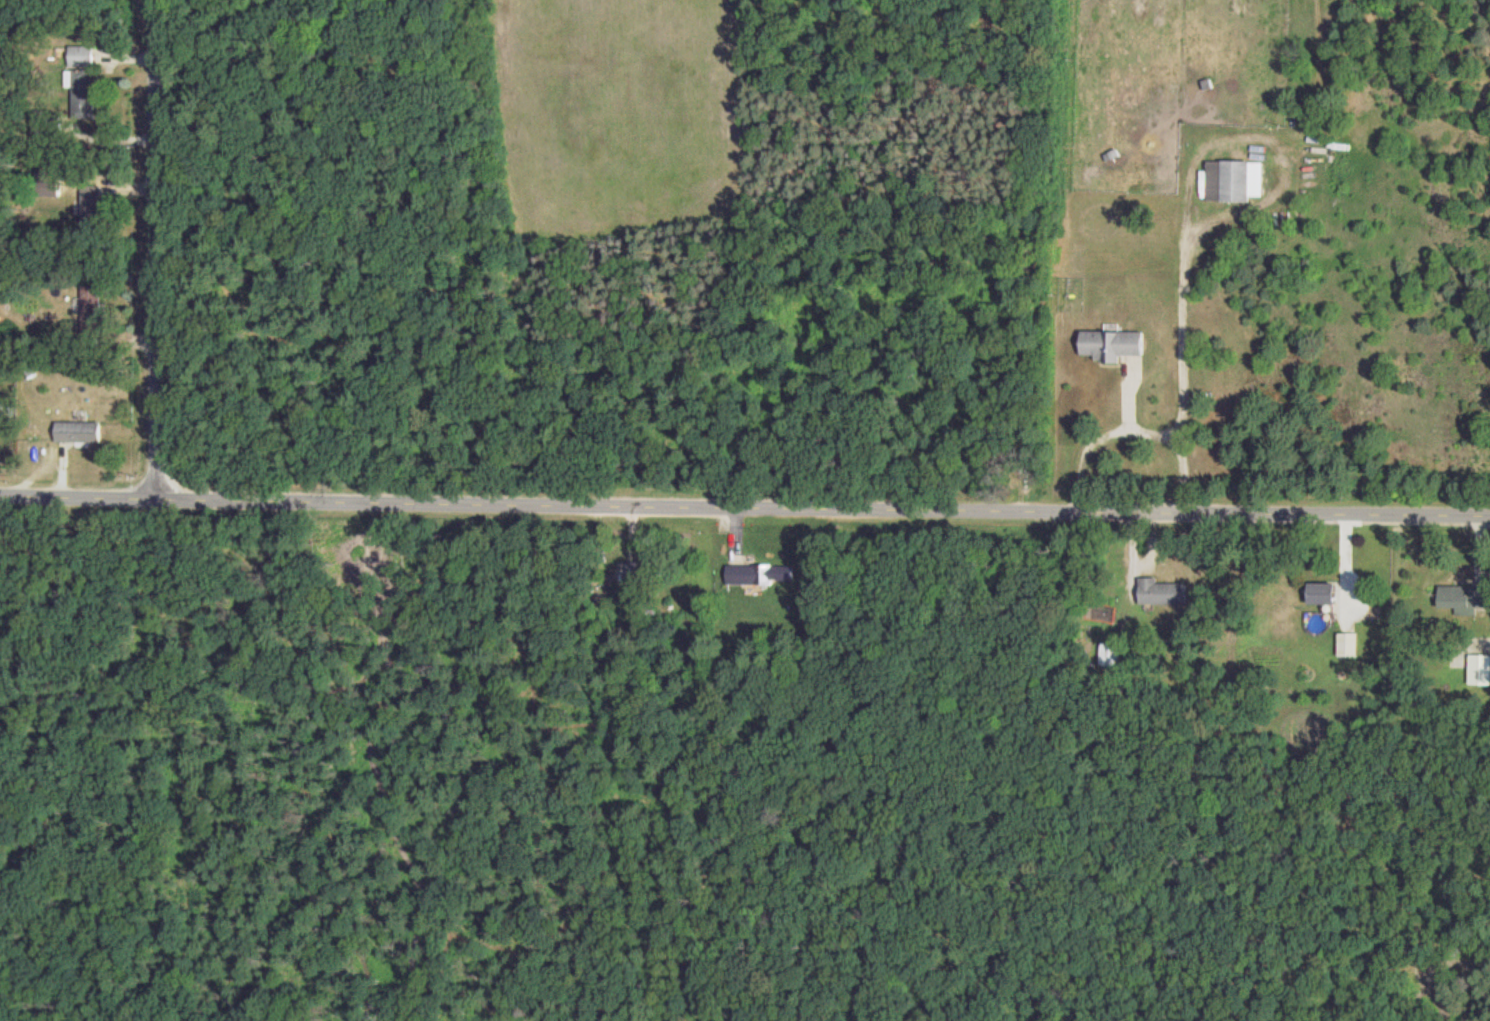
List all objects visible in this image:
building: (83, 55)
building: (84, 84)
building: (1226, 182)
building: (93, 204)
road: (148, 248)
building: (93, 308)
road: (1183, 310)
building: (1111, 344)
road: (1133, 427)
building: (80, 431)
road: (745, 504)
building: (645, 571)
building: (762, 573)
building: (1160, 592)
building: (1320, 593)
building: (1462, 598)
building: (1108, 654)
building: (1479, 670)

